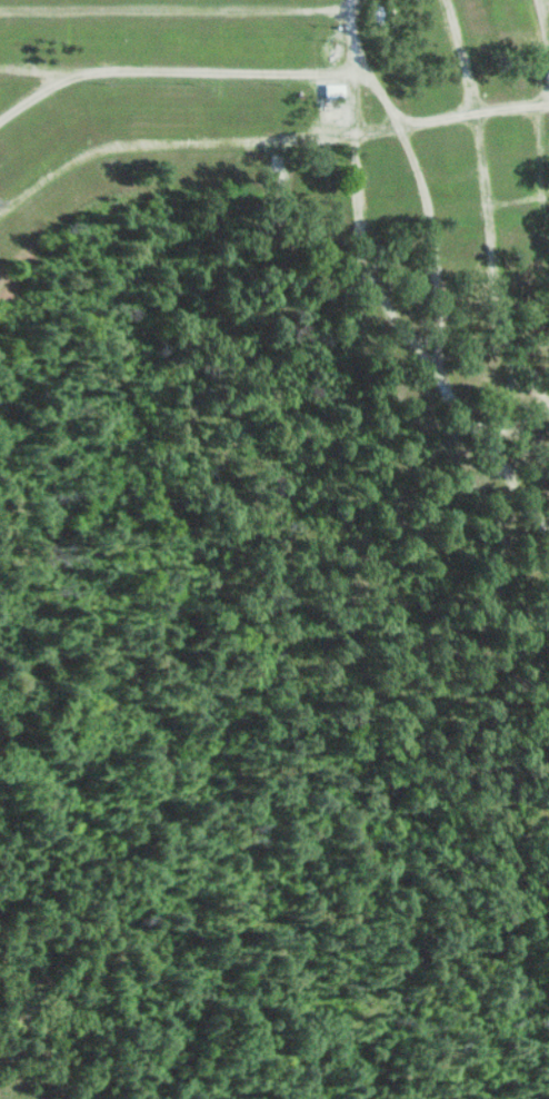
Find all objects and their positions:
road: (176, 8)
road: (542, 22)
building: (328, 49)
road: (54, 65)
road: (170, 67)
building: (333, 88)
road: (355, 93)
road: (383, 96)
road: (510, 106)
road: (476, 128)
road: (167, 139)
road: (432, 245)
road: (493, 305)
road: (403, 324)
road: (509, 400)

